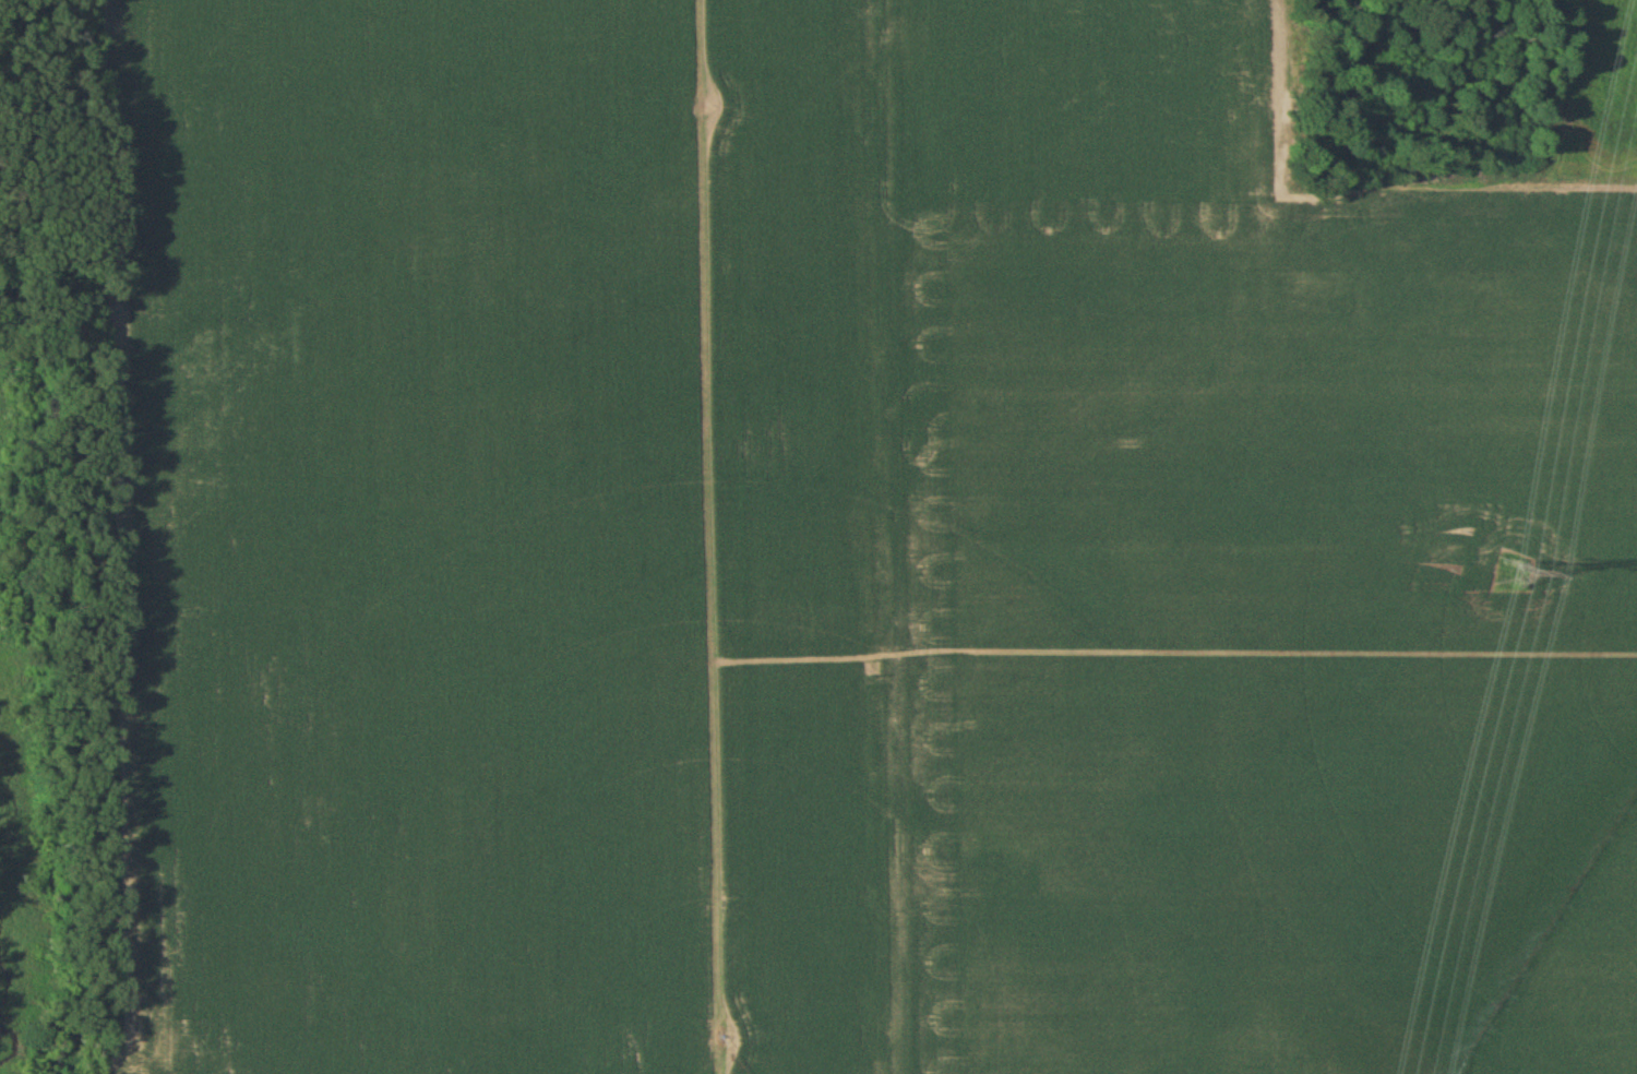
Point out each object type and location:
power tower: (1514, 570)

